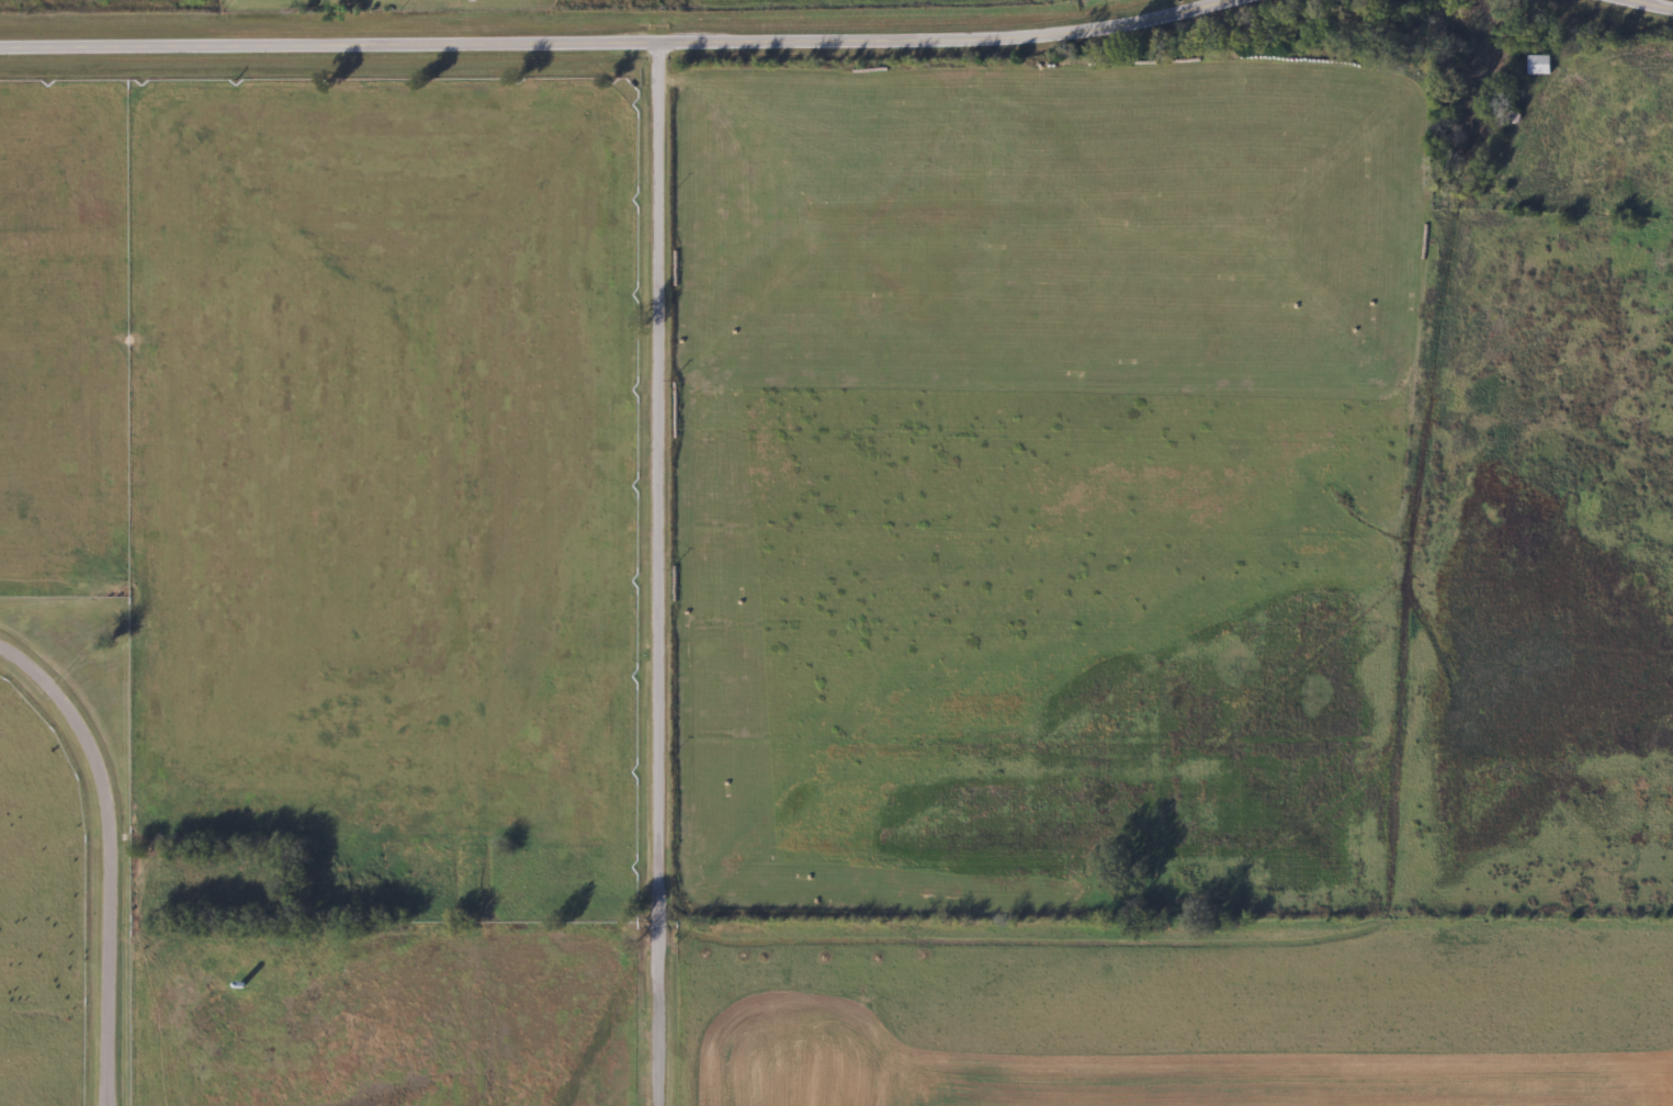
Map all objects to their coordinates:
road: (1651, 5)
road: (623, 42)
building: (1537, 66)
road: (660, 574)
road: (112, 854)

